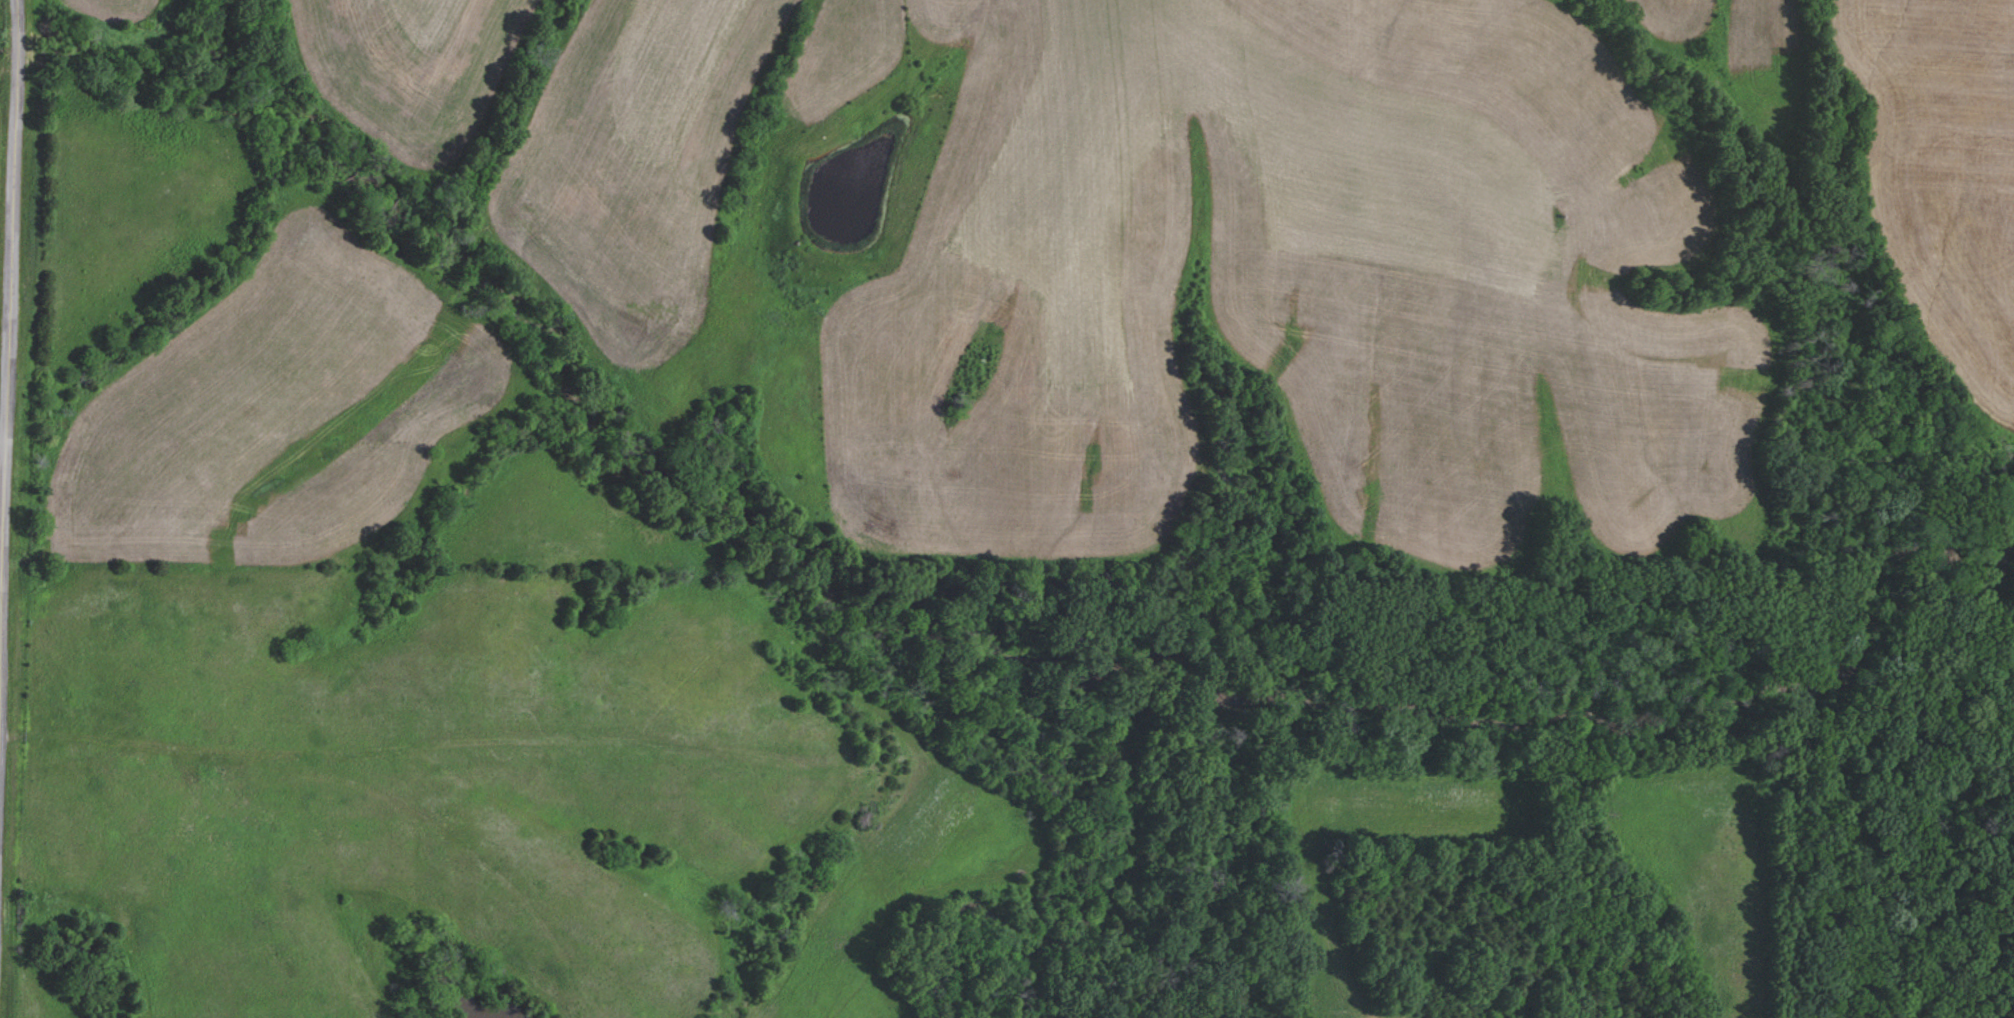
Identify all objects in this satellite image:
road: (7, 318)

